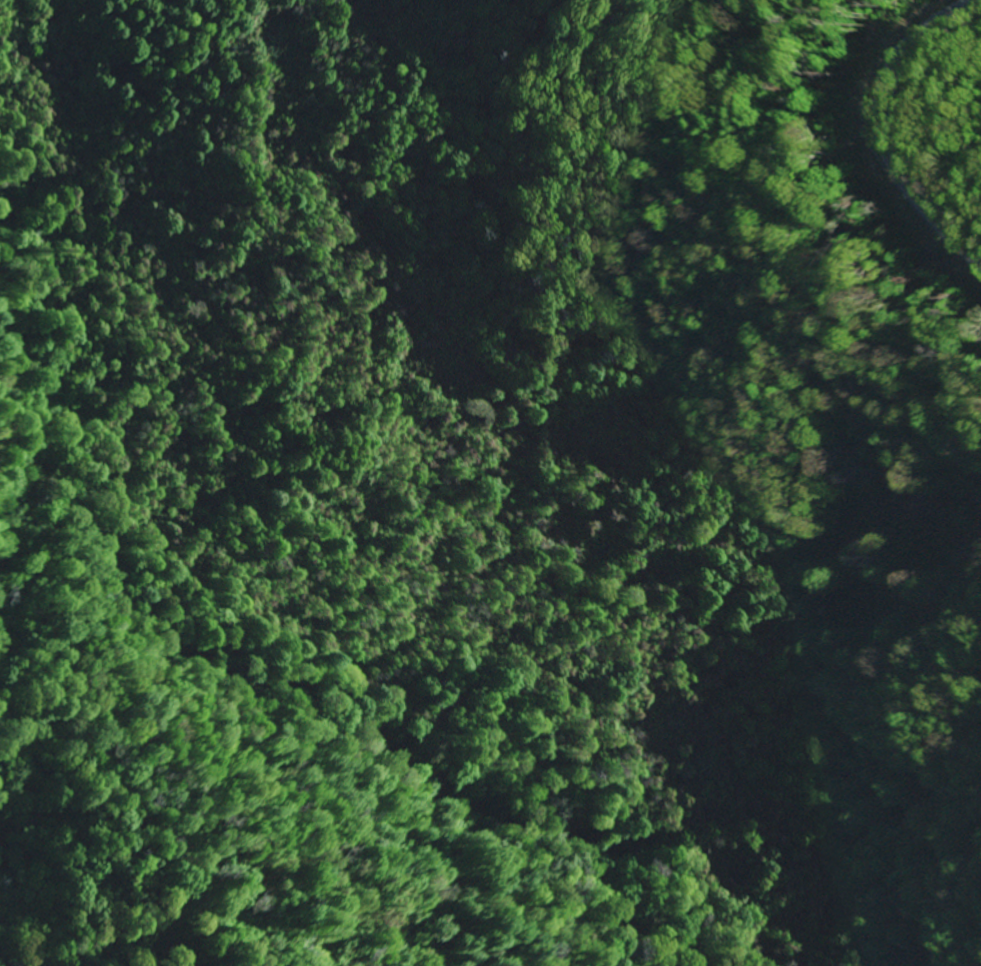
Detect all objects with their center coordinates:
road: (895, 130)

